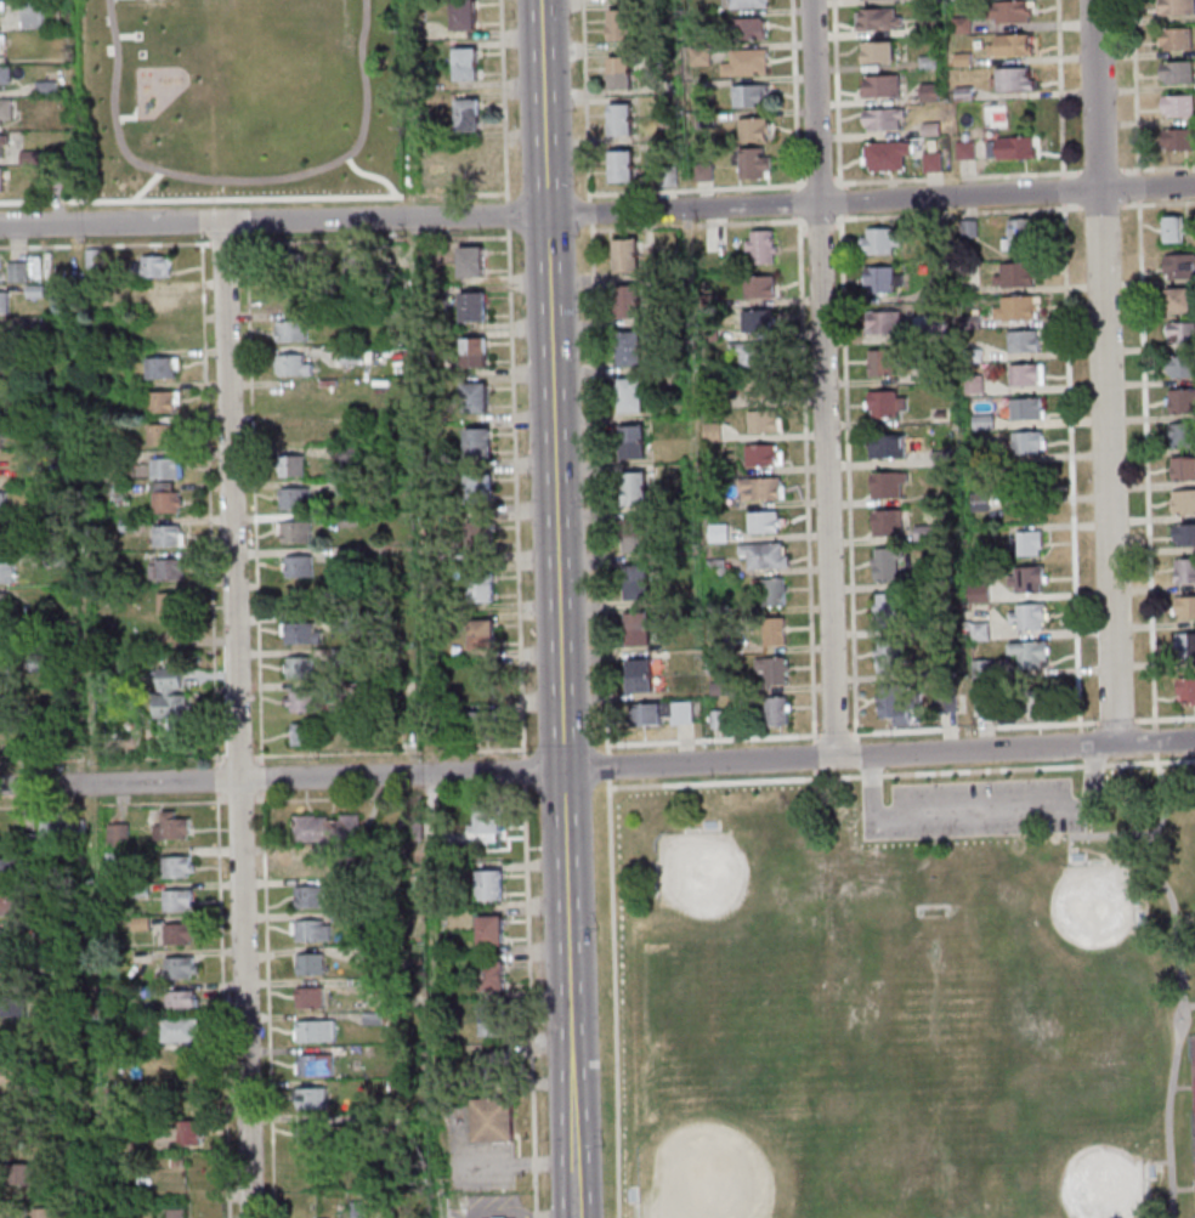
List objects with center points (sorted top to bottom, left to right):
building: (746, 4)
building: (1, 5)
building: (1173, 7)
building: (0, 11)
building: (1006, 11)
building: (29, 13)
building: (460, 13)
building: (873, 18)
building: (618, 23)
building: (958, 24)
building: (924, 27)
building: (747, 28)
road: (124, 34)
building: (1, 38)
building: (1172, 38)
building: (1007, 46)
building: (874, 51)
building: (697, 57)
building: (959, 60)
building: (463, 62)
building: (743, 62)
building: (924, 62)
building: (617, 69)
building: (1173, 72)
building: (4, 74)
building: (1009, 79)
building: (878, 85)
road: (1134, 85)
road: (1058, 86)
building: (43, 87)
road: (836, 90)
road: (793, 91)
building: (927, 92)
building: (961, 94)
park: (237, 95)
building: (746, 95)
building: (1174, 104)
building: (4, 108)
building: (464, 113)
road: (130, 117)
building: (617, 118)
building: (879, 119)
building: (702, 120)
building: (927, 128)
building: (751, 129)
building: (1176, 138)
building: (2, 140)
building: (1013, 147)
building: (662, 148)
building: (963, 151)
building: (883, 154)
building: (27, 157)
road: (505, 159)
building: (749, 162)
building: (929, 162)
building: (466, 164)
building: (618, 164)
road: (1157, 166)
road: (1098, 169)
building: (701, 171)
building: (2, 174)
road: (369, 174)
building: (664, 175)
road: (800, 175)
road: (817, 175)
road: (957, 175)
road: (836, 176)
road: (237, 179)
building: (53, 183)
road: (844, 183)
road: (146, 185)
road: (1137, 185)
road: (791, 186)
road: (691, 187)
road: (1061, 188)
road: (253, 197)
road: (844, 199)
road: (1138, 200)
road: (792, 202)
road: (1159, 202)
road: (1100, 204)
road: (1063, 205)
road: (958, 211)
road: (597, 213)
road: (845, 215)
road: (793, 217)
road: (692, 223)
road: (836, 226)
road: (819, 228)
building: (965, 228)
building: (1171, 228)
road: (802, 232)
building: (1016, 236)
road: (373, 239)
building: (877, 239)
road: (223, 243)
road: (104, 244)
building: (759, 247)
building: (623, 254)
building: (90, 257)
building: (468, 259)
building: (285, 262)
building: (352, 265)
building: (149, 266)
building: (1178, 266)
building: (0, 267)
building: (13, 271)
building: (1013, 274)
building: (879, 278)
building: (757, 285)
building: (658, 288)
building: (32, 290)
building: (929, 294)
building: (1176, 298)
building: (624, 299)
building: (158, 300)
building: (2, 301)
building: (470, 305)
building: (1014, 307)
building: (754, 319)
building: (968, 321)
building: (882, 322)
building: (288, 330)
building: (933, 332)
building: (1179, 332)
building: (6, 335)
building: (1020, 341)
building: (627, 346)
building: (470, 350)
building: (753, 353)
building: (969, 355)
building: (346, 356)
building: (878, 362)
building: (289, 366)
building: (1179, 366)
building: (157, 367)
building: (1, 369)
road: (1103, 372)
building: (1021, 374)
road: (593, 376)
road: (823, 378)
building: (972, 384)
building: (758, 386)
building: (628, 393)
building: (471, 396)
building: (714, 398)
building: (1, 401)
building: (159, 401)
building: (1179, 401)
building: (883, 402)
building: (1023, 408)
building: (938, 414)
building: (760, 420)
building: (346, 423)
building: (980, 423)
building: (0, 430)
building: (159, 431)
building: (291, 431)
building: (708, 431)
building: (1180, 435)
building: (629, 440)
building: (474, 441)
building: (1024, 441)
building: (883, 444)
building: (345, 453)
building: (973, 453)
building: (758, 454)
building: (936, 458)
road: (1145, 463)
building: (288, 465)
building: (162, 468)
building: (1182, 468)
road: (846, 475)
building: (1024, 477)
road: (805, 478)
building: (884, 482)
building: (344, 486)
building: (475, 487)
building: (632, 487)
building: (758, 488)
building: (162, 498)
building: (294, 498)
building: (976, 502)
building: (1182, 502)
building: (0, 503)
building: (344, 519)
building: (760, 522)
building: (884, 522)
building: (125, 525)
building: (291, 531)
building: (921, 532)
building: (714, 533)
building: (1183, 533)
building: (633, 534)
building: (164, 536)
building: (476, 536)
building: (1, 538)
building: (1026, 543)
building: (345, 553)
building: (761, 555)
building: (51, 560)
building: (883, 562)
building: (295, 566)
building: (163, 568)
building: (713, 568)
building: (1183, 571)
building: (5, 572)
building: (939, 579)
building: (1024, 579)
building: (634, 582)
building: (477, 585)
building: (768, 591)
building: (975, 593)
building: (1, 605)
building: (1184, 606)
road: (420, 608)
road: (557, 608)
building: (885, 608)
building: (168, 616)
building: (1025, 616)
building: (339, 623)
building: (635, 628)
building: (771, 630)
building: (976, 630)
building: (299, 633)
building: (478, 634)
building: (6, 636)
building: (1184, 644)
building: (1026, 652)
building: (885, 655)
building: (338, 656)
building: (34, 663)
building: (295, 667)
building: (979, 668)
building: (770, 669)
building: (942, 669)
building: (4, 672)
building: (636, 675)
building: (481, 680)
building: (715, 689)
building: (1184, 689)
building: (346, 691)
building: (169, 699)
building: (299, 701)
building: (1035, 701)
building: (939, 702)
building: (896, 703)
building: (4, 706)
building: (980, 706)
building: (772, 709)
building: (680, 712)
building: (642, 714)
road: (1165, 716)
road: (234, 719)
building: (714, 719)
road: (1116, 719)
building: (481, 725)
road: (973, 727)
building: (302, 733)
road: (833, 733)
road: (712, 738)
road: (1154, 738)
building: (5, 740)
road: (814, 754)
road: (715, 761)
road: (1149, 763)
road: (607, 765)
road: (1093, 765)
road: (981, 769)
road: (815, 774)
road: (870, 774)
road: (734, 781)
road: (118, 783)
parking lot: (970, 810)
road: (981, 814)
building: (483, 821)
building: (169, 827)
building: (323, 828)
building: (412, 828)
building: (50, 831)
building: (114, 834)
road: (1110, 834)
road: (1069, 844)
building: (441, 854)
building: (112, 857)
building: (307, 862)
building: (174, 866)
building: (7, 868)
building: (367, 884)
building: (486, 884)
building: (137, 889)
building: (305, 896)
building: (174, 899)
building: (10, 903)
park: (738, 911)
building: (137, 923)
building: (45, 925)
building: (307, 930)
building: (487, 930)
building: (175, 933)
park: (1063, 934)
building: (12, 937)
building: (368, 951)
road: (1186, 954)
building: (307, 964)
building: (177, 967)
building: (15, 973)
building: (488, 975)
road: (1178, 980)
building: (369, 985)
building: (146, 991)
building: (55, 996)
park: (908, 996)
building: (306, 997)
road: (611, 998)
building: (179, 1002)
building: (13, 1004)
road: (1186, 1004)
building: (369, 1018)
flagpole: (1180, 1019)
building: (491, 1020)
road: (1173, 1021)
building: (176, 1030)
building: (312, 1030)
building: (12, 1039)
park: (939, 1063)
building: (179, 1064)
building: (312, 1065)
building: (491, 1065)
building: (12, 1072)
park: (1193, 1072)
road: (1182, 1086)
building: (187, 1097)
building: (307, 1098)
building: (358, 1118)
building: (489, 1120)
building: (306, 1132)
building: (187, 1133)
park: (1072, 1155)
road: (1146, 1160)
park: (717, 1161)
building: (174, 1162)
building: (19, 1173)
building: (81, 1177)
road: (1183, 1189)
building: (40, 1213)
building: (172, 1213)

